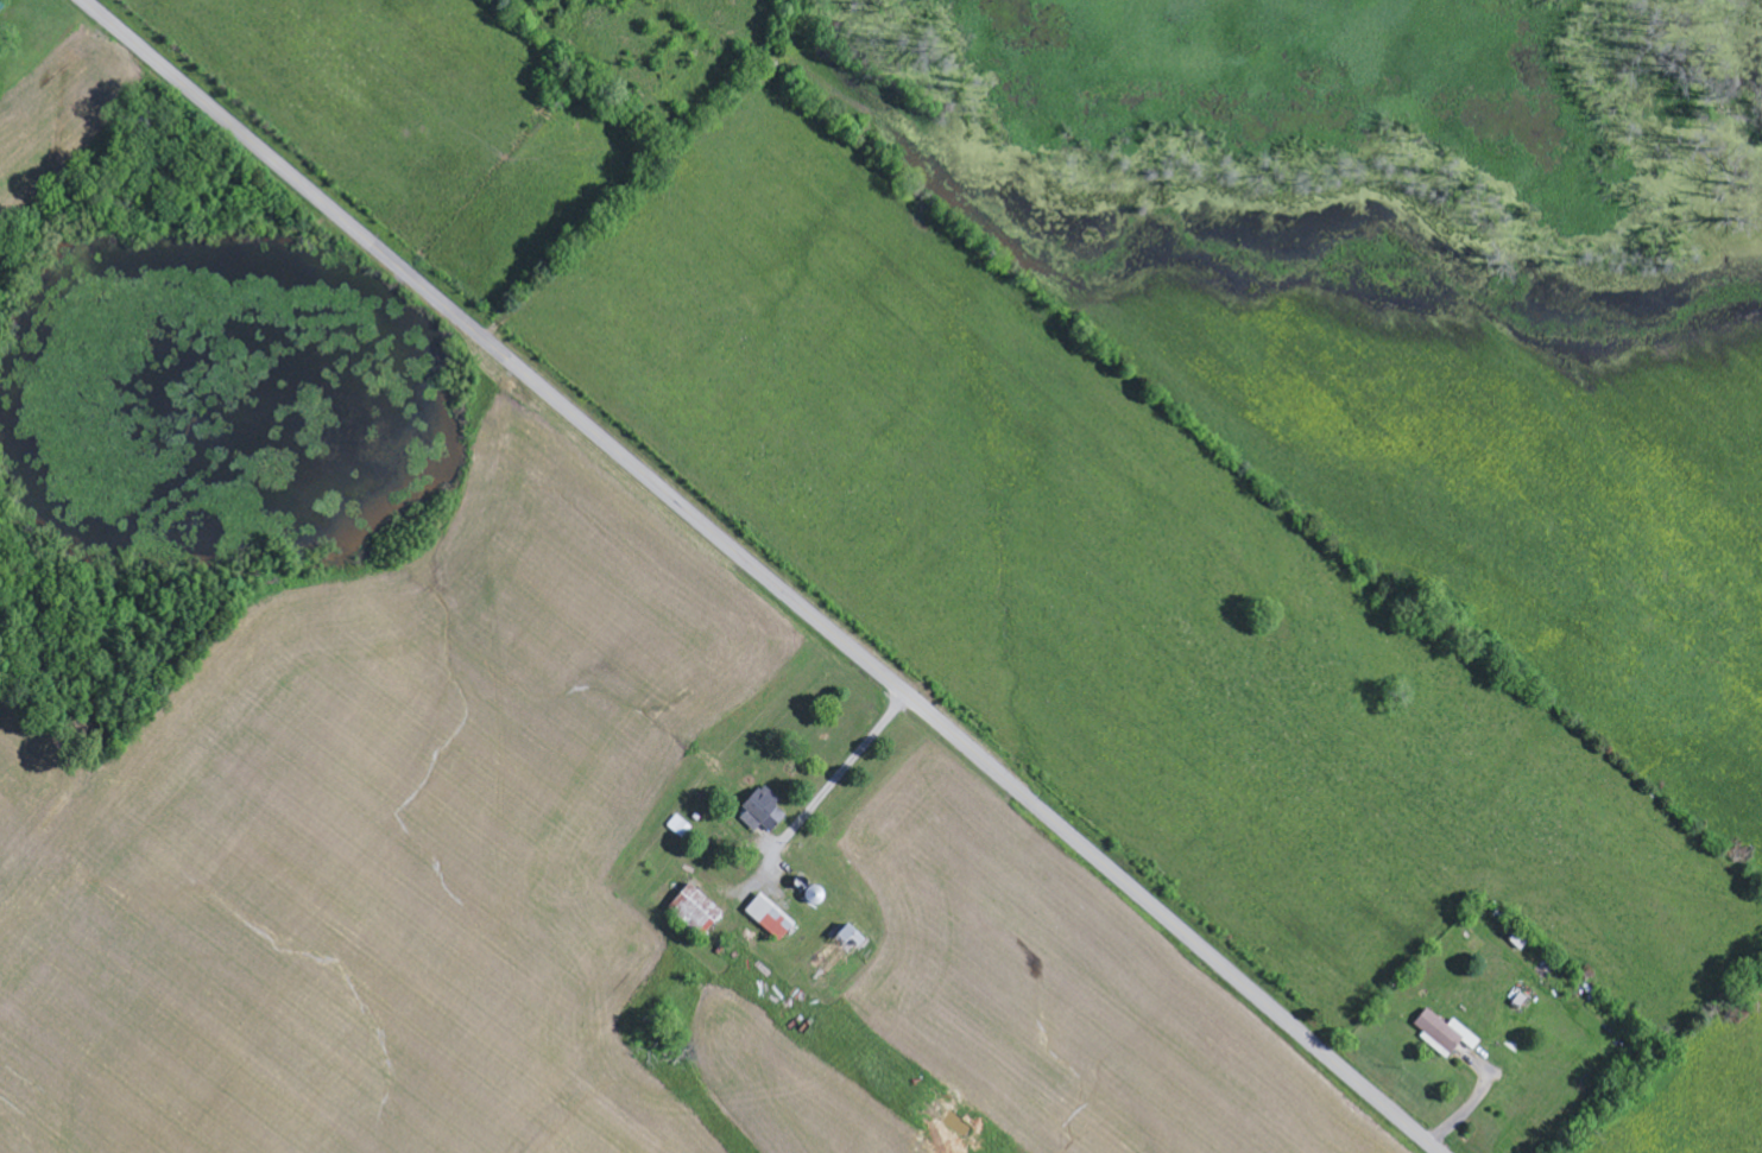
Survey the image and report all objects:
building: (2, 7)
road: (762, 575)
building: (765, 812)
building: (701, 911)
building: (775, 918)
building: (845, 952)
building: (1524, 1005)
building: (1450, 1037)
building: (948, 1114)

